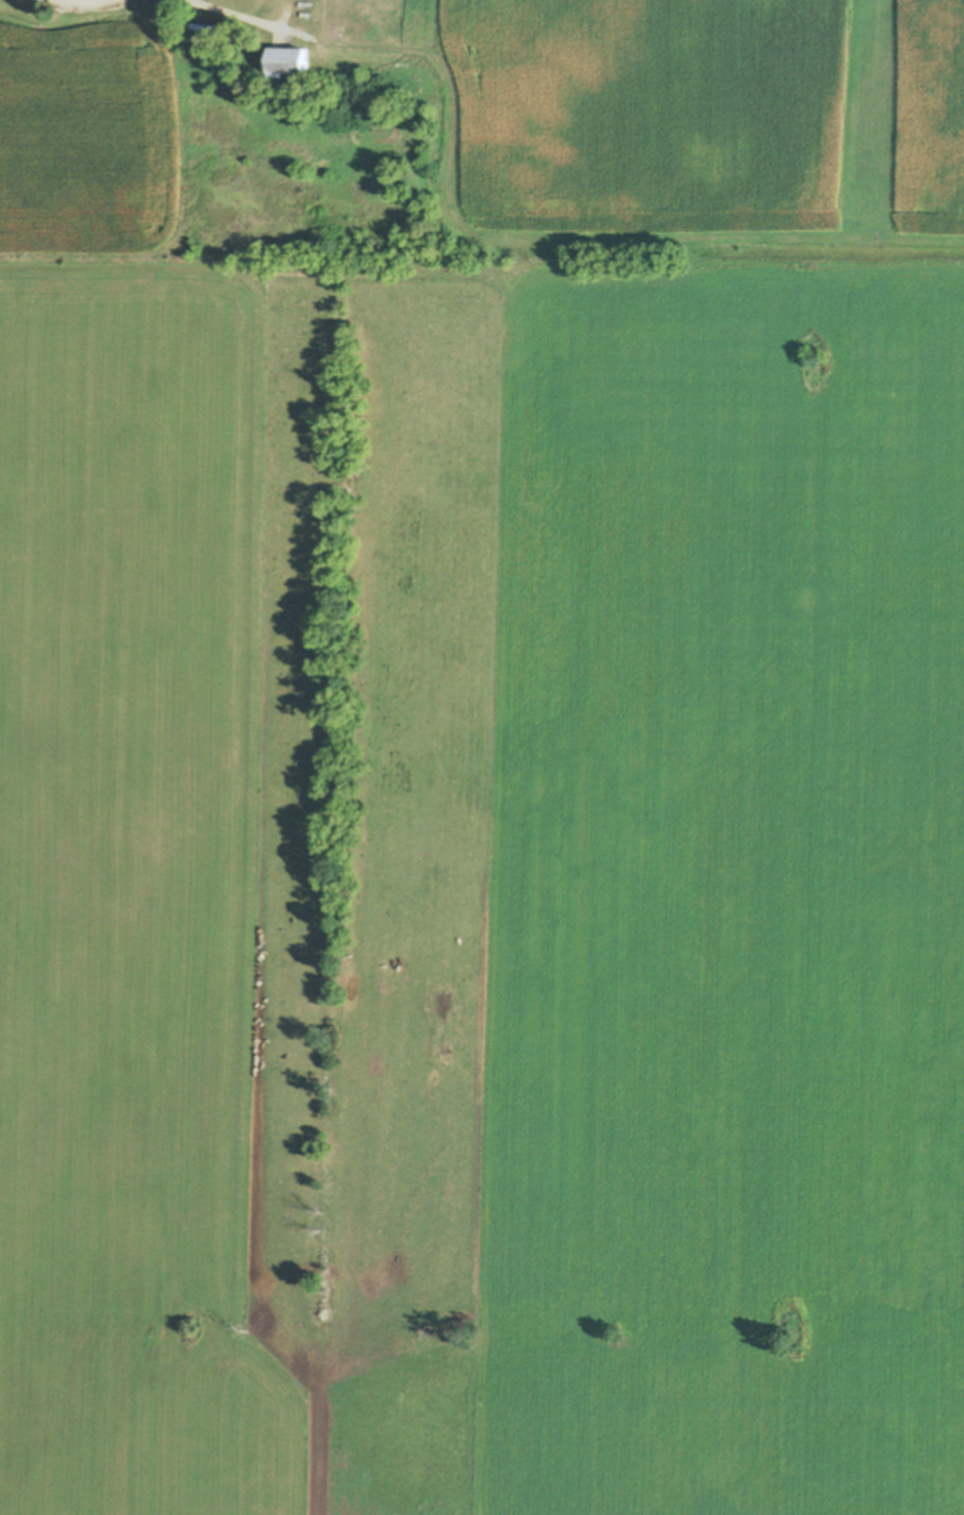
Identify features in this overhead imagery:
road: (88, 3)
road: (251, 20)
building: (210, 33)
building: (289, 68)
crop: (714, 128)
crop: (468, 865)

